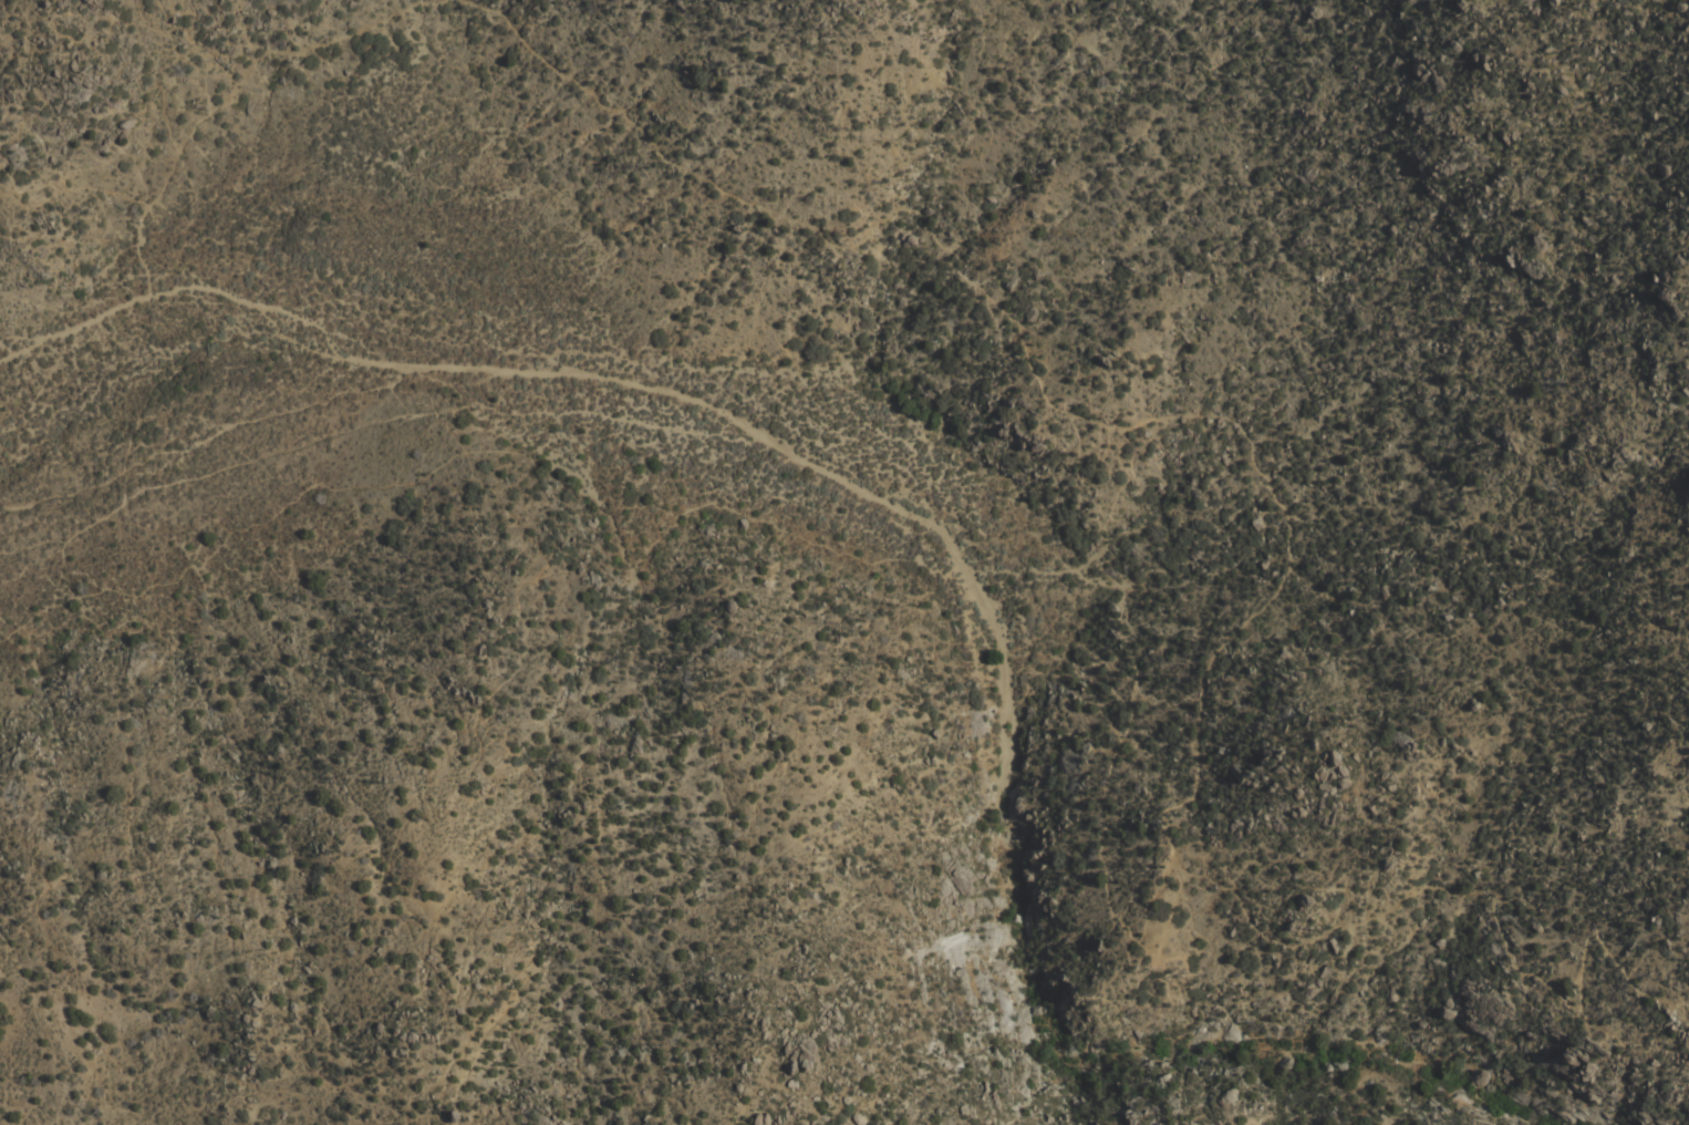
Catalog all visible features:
road: (37, 82)
road: (226, 97)
road: (71, 203)
road: (73, 320)
road: (747, 431)
road: (124, 491)
road: (1292, 520)
road: (1261, 1042)

